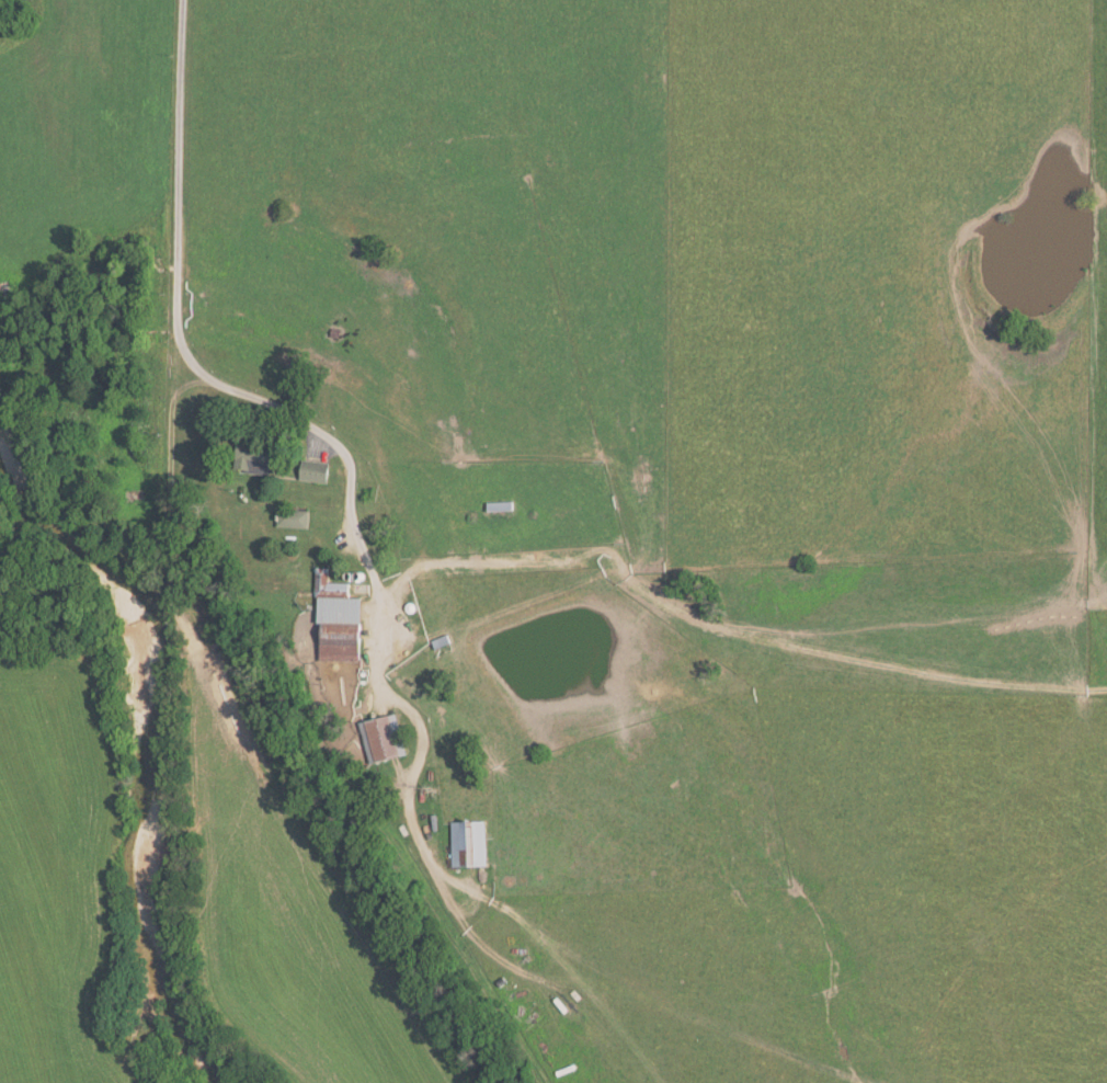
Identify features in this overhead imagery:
road: (176, 315)
building: (256, 456)
building: (316, 470)
building: (294, 517)
building: (339, 619)
building: (384, 738)
building: (469, 843)

